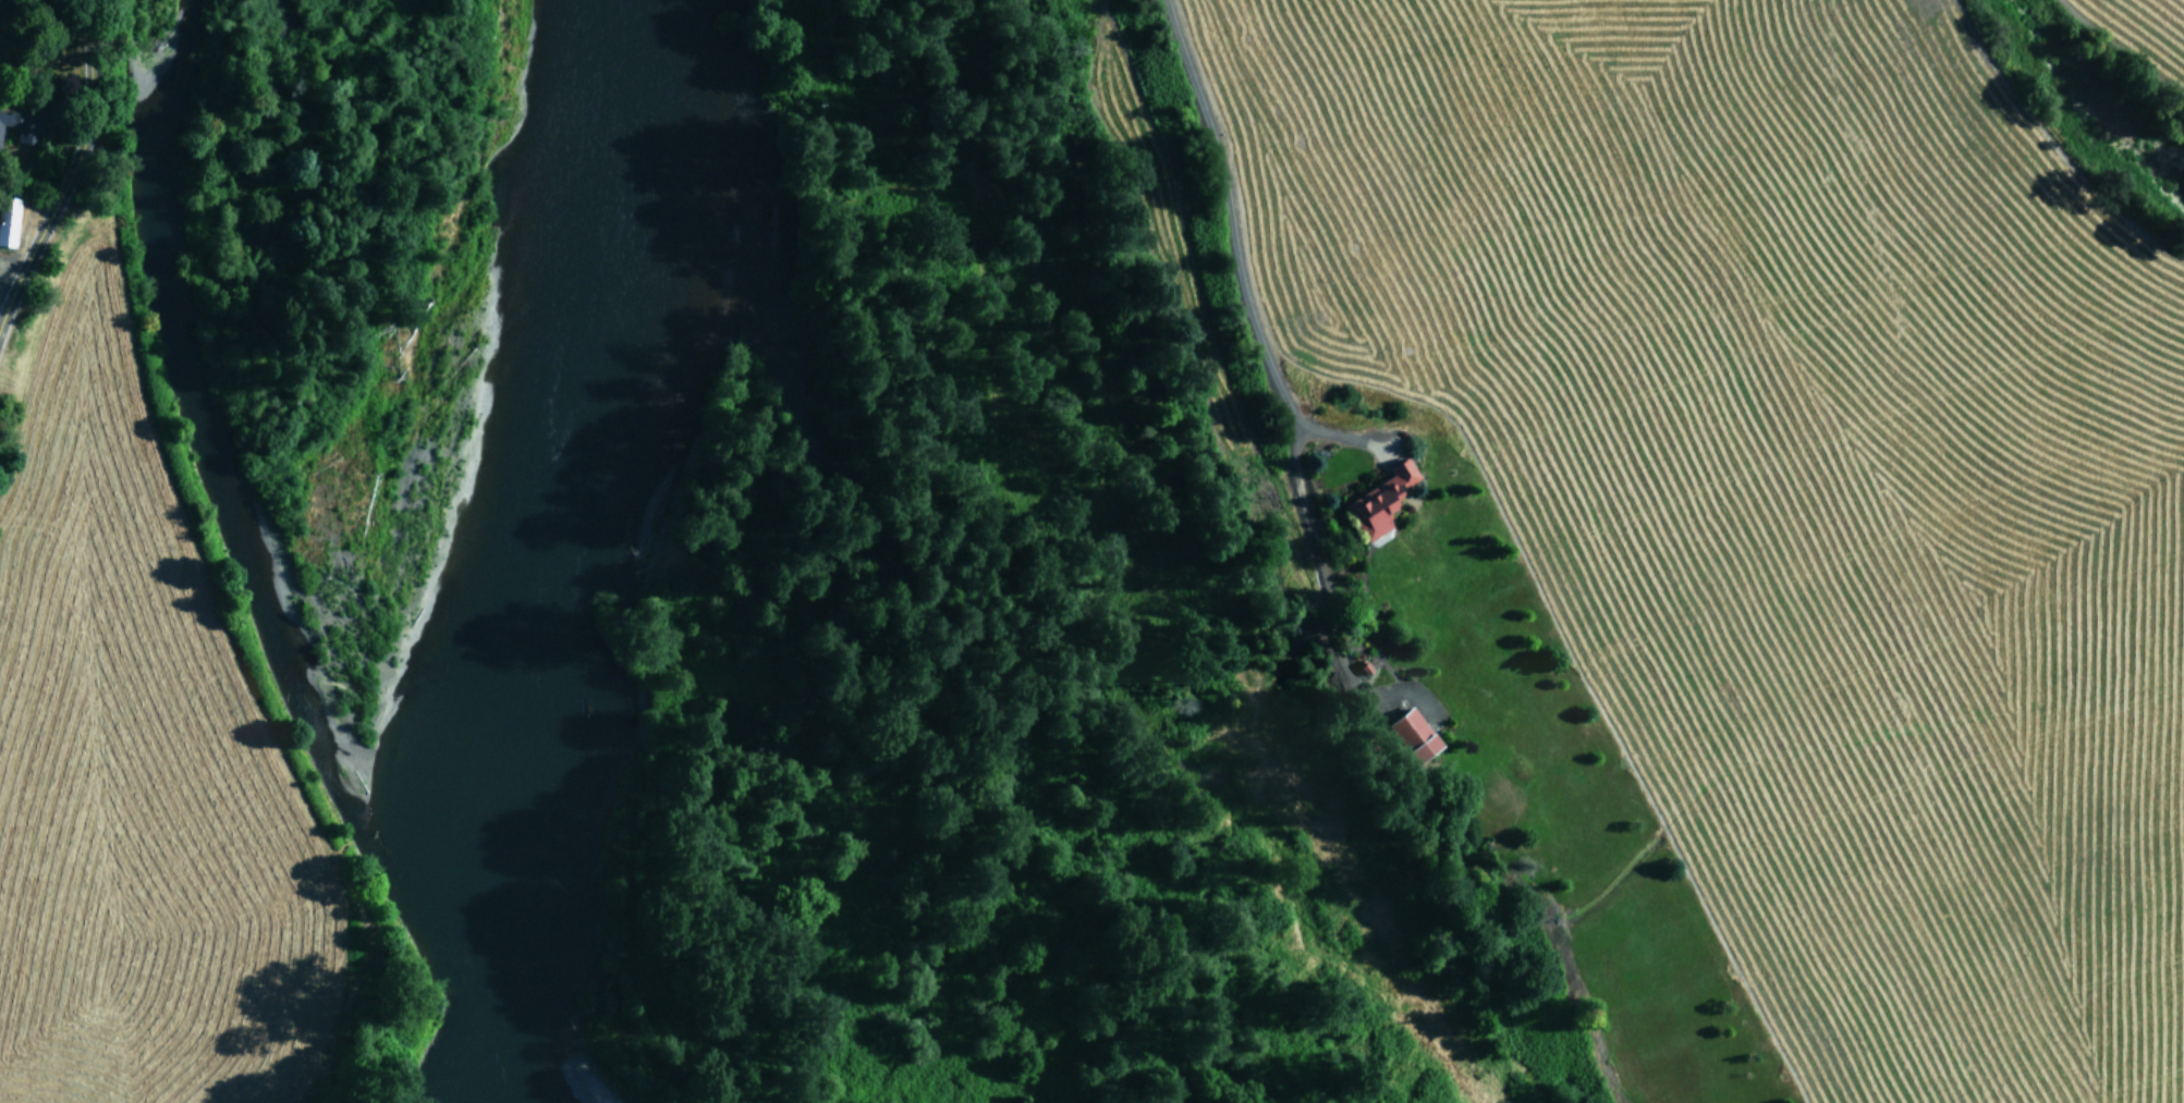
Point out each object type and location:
building: (23, 122)
road: (71, 169)
building: (9, 222)
building: (1382, 500)
crop: (1749, 507)
river: (550, 550)
crop: (125, 658)
building: (1419, 733)

